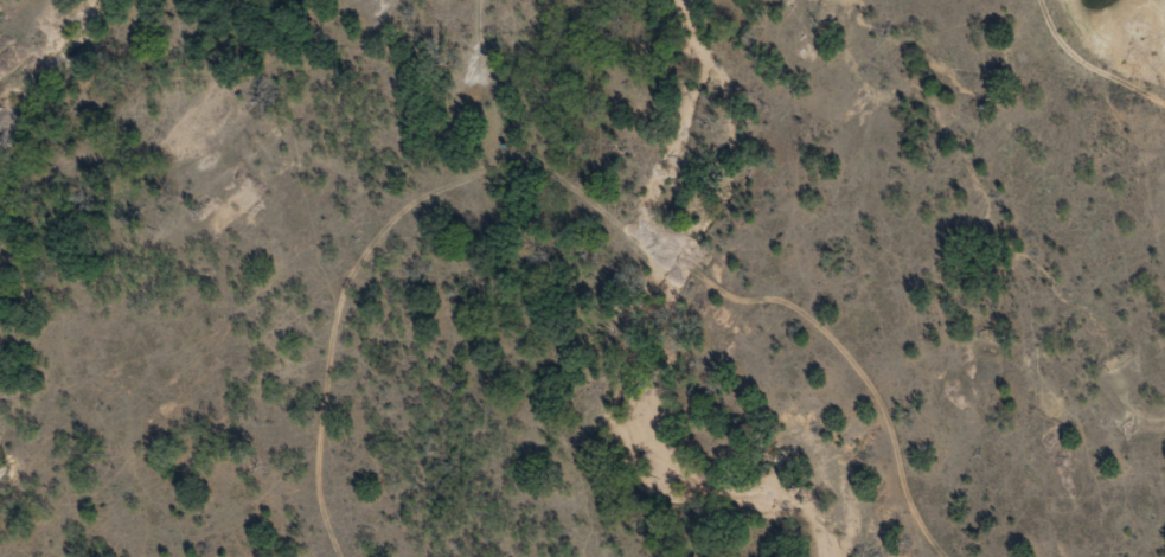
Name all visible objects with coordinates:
road: (578, 256)

